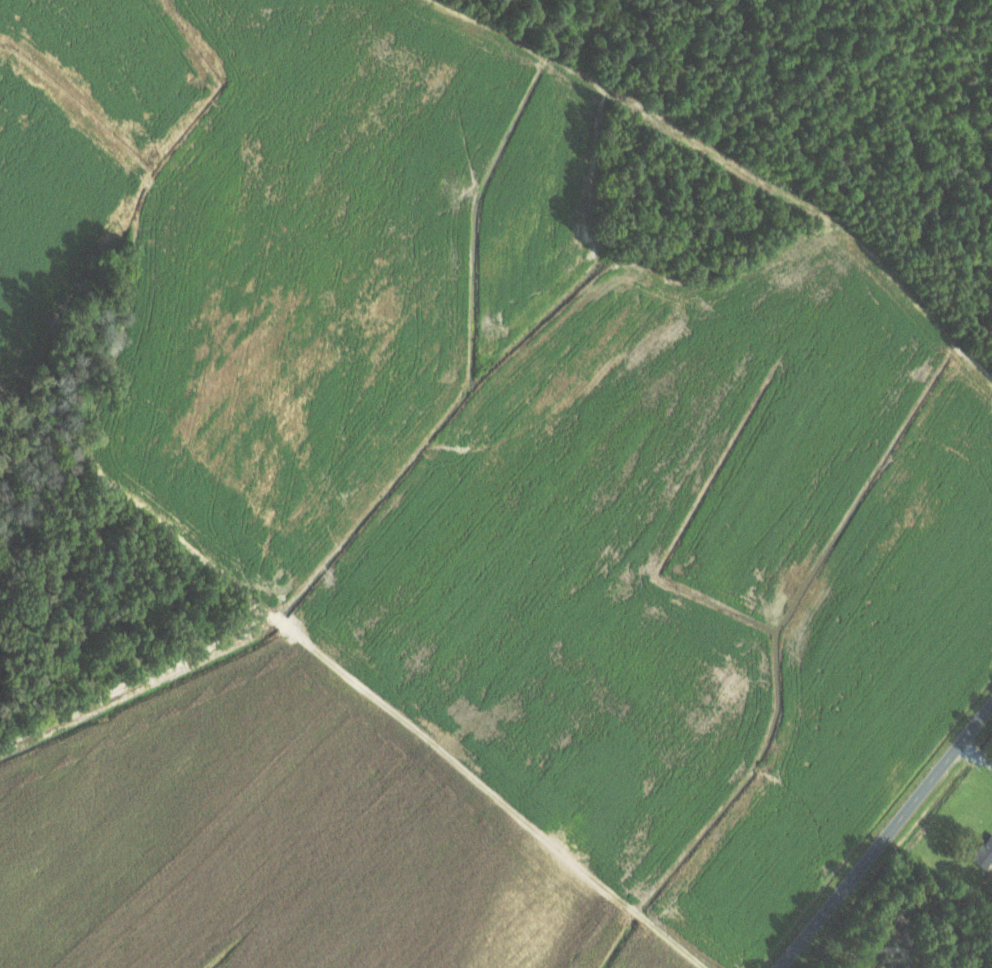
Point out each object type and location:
road: (976, 752)
road: (886, 835)
building: (984, 853)

